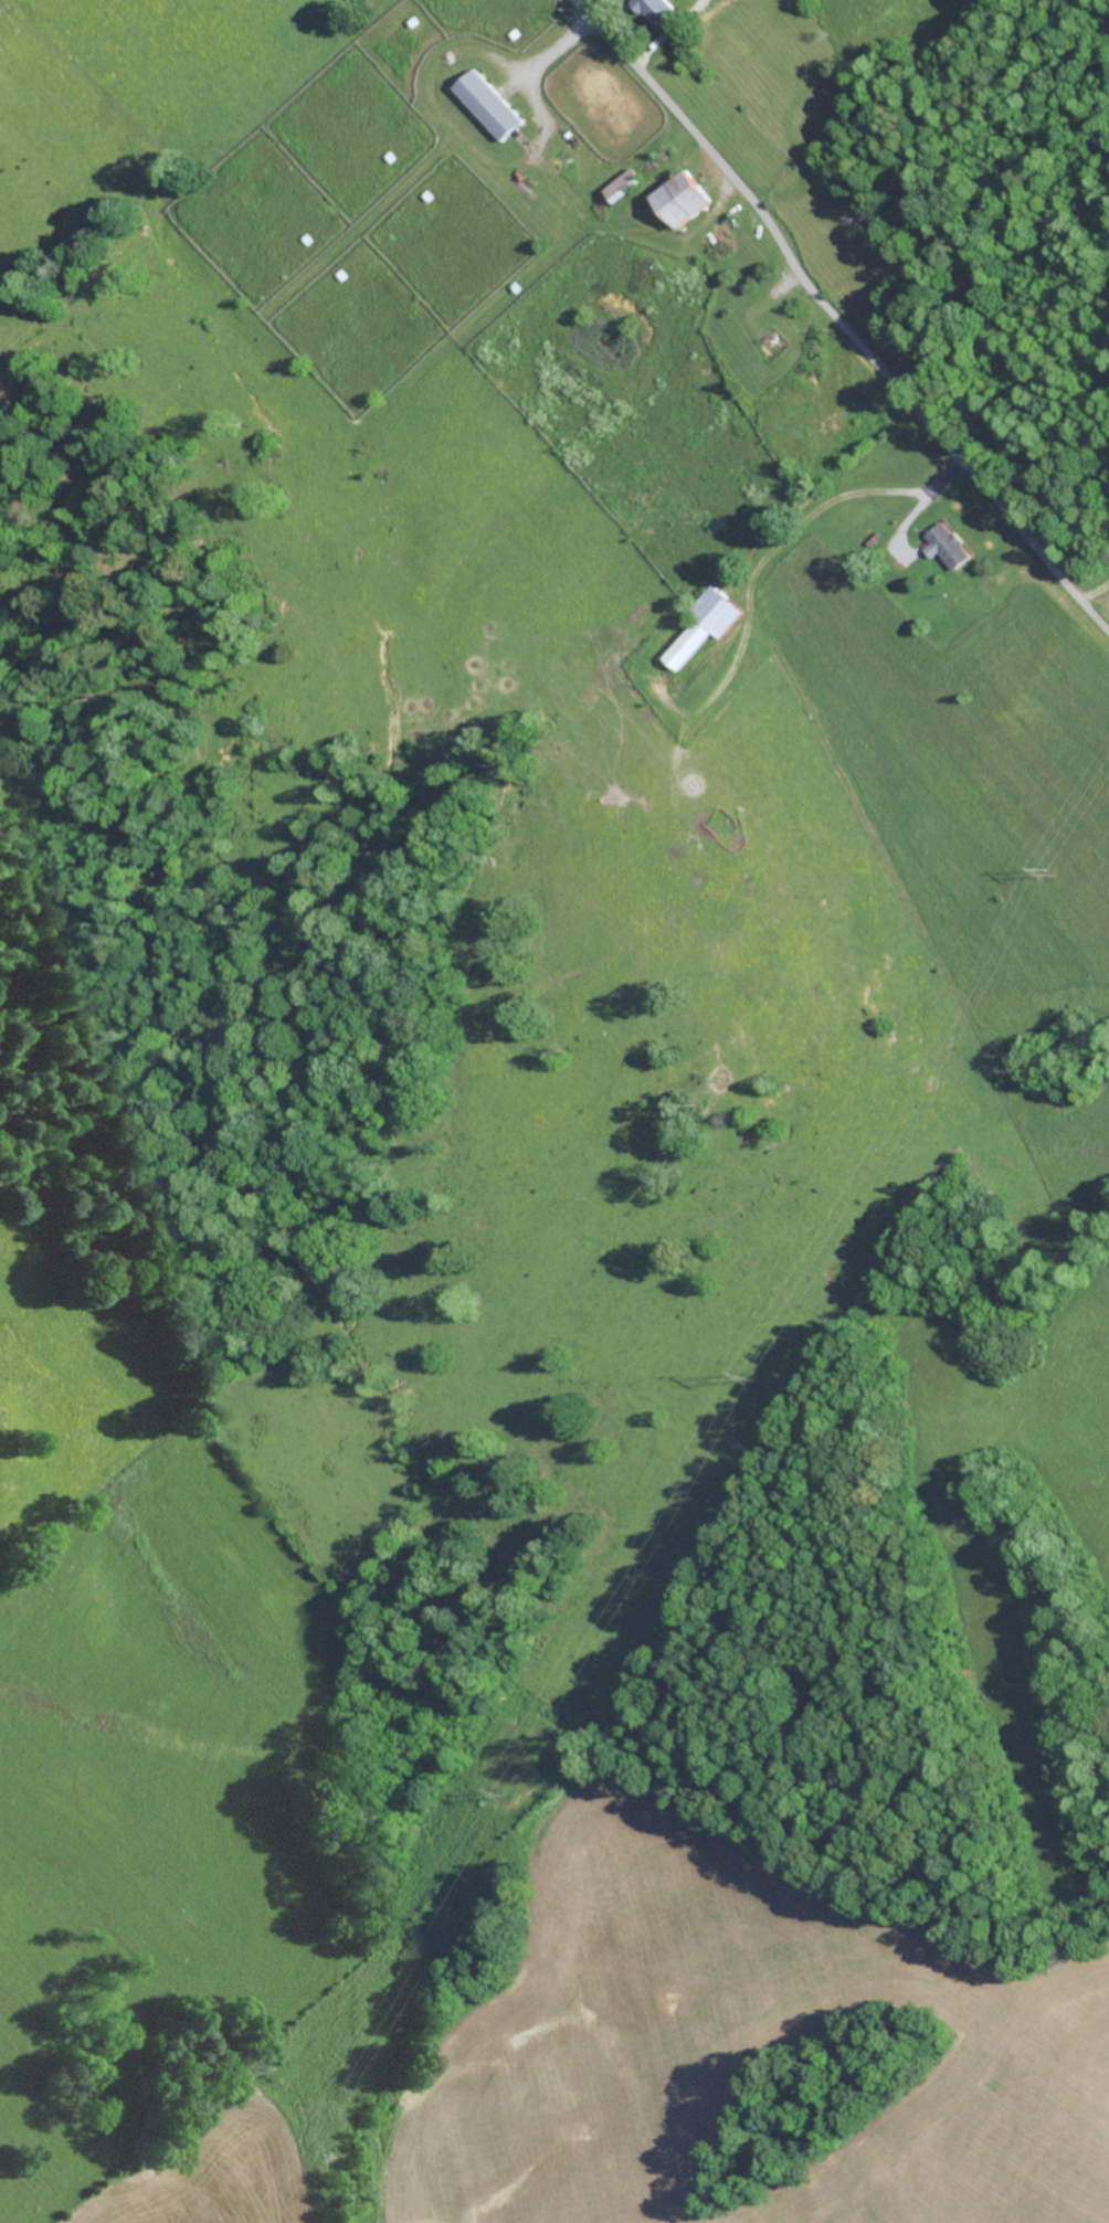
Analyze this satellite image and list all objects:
building: (652, 9)
building: (486, 104)
building: (617, 186)
building: (675, 199)
road: (837, 321)
building: (942, 546)
building: (703, 626)
power tower: (1054, 866)
power tower: (753, 1377)
power tower: (507, 1793)

